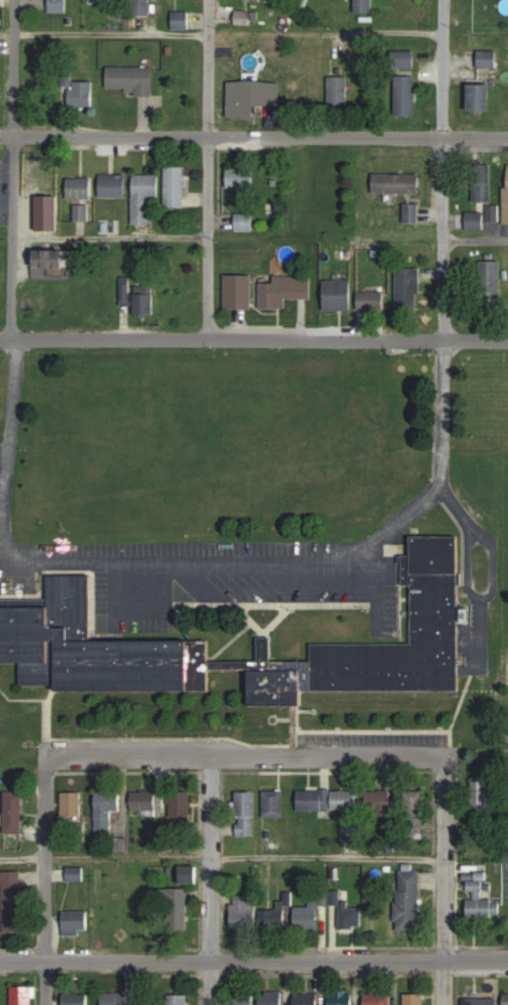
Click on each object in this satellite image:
building: (57, 5)
building: (140, 6)
building: (363, 6)
building: (242, 17)
building: (180, 19)
road: (104, 33)
building: (487, 59)
road: (443, 68)
building: (130, 78)
building: (404, 82)
building: (338, 90)
building: (80, 93)
building: (251, 97)
building: (480, 97)
road: (253, 136)
road: (14, 169)
road: (208, 169)
building: (42, 172)
building: (240, 177)
building: (396, 182)
building: (482, 183)
building: (112, 185)
building: (175, 186)
building: (79, 187)
building: (144, 197)
building: (81, 212)
building: (411, 212)
building: (491, 217)
building: (244, 221)
building: (47, 224)
road: (111, 237)
road: (442, 238)
road: (475, 240)
building: (54, 258)
building: (490, 282)
building: (284, 290)
building: (409, 290)
building: (238, 291)
building: (338, 294)
building: (145, 299)
building: (371, 300)
road: (254, 338)
road: (10, 445)
road: (309, 562)
road: (495, 562)
building: (45, 619)
road: (244, 756)
building: (327, 800)
building: (145, 801)
building: (379, 801)
building: (71, 803)
building: (273, 803)
building: (480, 803)
building: (181, 804)
building: (414, 808)
building: (106, 810)
building: (13, 812)
building: (246, 813)
road: (222, 855)
road: (212, 858)
building: (76, 874)
building: (189, 874)
building: (481, 898)
building: (409, 900)
building: (15, 904)
road: (45, 910)
building: (243, 911)
building: (145, 912)
building: (348, 913)
building: (181, 914)
building: (278, 915)
building: (107, 916)
building: (307, 917)
building: (75, 922)
road: (442, 930)
road: (253, 960)
road: (211, 982)
road: (45, 983)
building: (21, 995)
building: (272, 997)
building: (341, 997)
building: (306, 998)
building: (413, 998)
building: (76, 999)
building: (120, 999)
building: (177, 999)
building: (245, 999)
building: (378, 999)
building: (506, 999)
building: (480, 1001)

